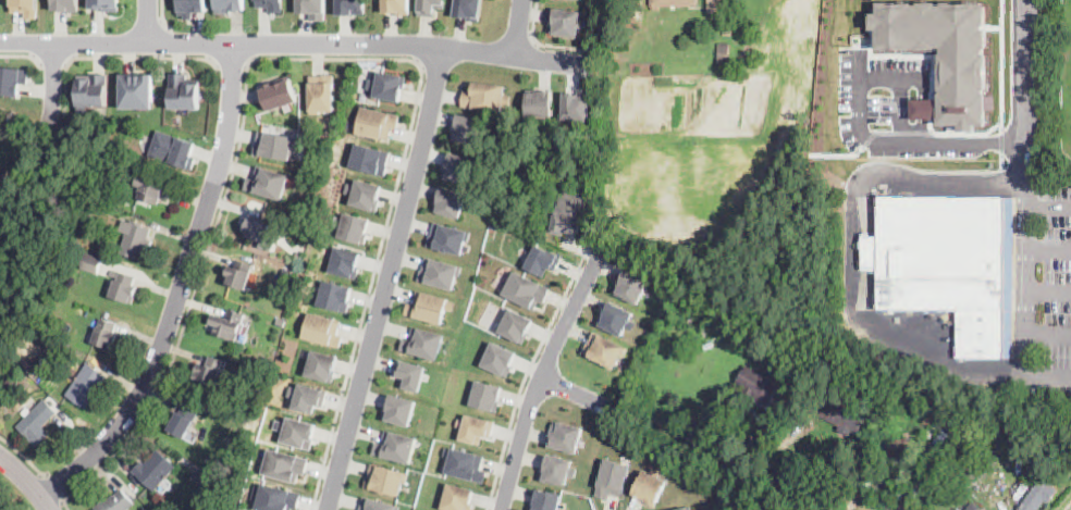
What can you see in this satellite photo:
building: (106, 3)
building: (673, 3)
building: (229, 4)
building: (65, 5)
building: (270, 5)
building: (397, 5)
building: (430, 5)
building: (25, 7)
building: (193, 7)
building: (349, 7)
building: (717, 7)
building: (311, 8)
building: (467, 9)
road: (161, 15)
road: (148, 21)
building: (567, 23)
road: (519, 27)
building: (727, 30)
road: (159, 37)
road: (296, 42)
road: (544, 43)
building: (944, 51)
road: (21, 52)
road: (313, 54)
road: (118, 55)
building: (724, 55)
road: (231, 61)
road: (52, 62)
road: (53, 77)
building: (12, 78)
building: (389, 84)
building: (137, 89)
building: (93, 90)
building: (184, 90)
building: (280, 91)
building: (321, 91)
building: (485, 96)
building: (541, 103)
building: (576, 107)
building: (378, 121)
building: (471, 127)
road: (909, 135)
building: (278, 145)
building: (173, 149)
building: (370, 159)
building: (461, 166)
building: (3, 175)
building: (268, 182)
building: (152, 189)
building: (365, 192)
building: (452, 199)
road: (1048, 204)
road: (1025, 208)
building: (95, 209)
building: (569, 211)
building: (353, 225)
building: (256, 229)
building: (450, 236)
building: (137, 239)
road: (1048, 251)
building: (299, 254)
road: (853, 256)
building: (542, 259)
building: (346, 260)
building: (93, 261)
building: (949, 265)
building: (287, 271)
building: (441, 271)
building: (239, 274)
road: (386, 277)
parking lot: (1058, 279)
building: (632, 285)
building: (124, 288)
building: (526, 288)
road: (181, 290)
road: (1048, 293)
building: (335, 294)
building: (430, 304)
building: (710, 311)
building: (617, 319)
building: (281, 320)
building: (741, 322)
building: (517, 324)
building: (230, 325)
building: (323, 327)
building: (49, 333)
building: (107, 335)
road: (1048, 335)
building: (27, 340)
building: (423, 341)
building: (50, 346)
building: (605, 349)
building: (500, 357)
building: (322, 363)
building: (211, 371)
building: (410, 372)
building: (250, 374)
road: (525, 374)
road: (539, 378)
building: (9, 382)
building: (86, 385)
building: (759, 387)
road: (574, 391)
building: (487, 394)
building: (308, 395)
building: (401, 408)
building: (842, 420)
building: (37, 421)
building: (183, 421)
building: (476, 427)
building: (934, 428)
building: (297, 431)
building: (565, 436)
building: (888, 438)
building: (939, 443)
building: (397, 445)
road: (23, 451)
building: (212, 460)
building: (465, 462)
building: (285, 463)
building: (973, 468)
building: (557, 469)
building: (155, 470)
building: (921, 471)
building: (386, 476)
building: (613, 477)
building: (892, 477)
building: (956, 480)
road: (27, 481)
road: (56, 483)
building: (651, 486)
building: (890, 494)
building: (276, 496)
building: (457, 496)
building: (1038, 497)
building: (546, 500)
building: (115, 502)
building: (377, 503)
road: (1067, 505)
building: (974, 508)
building: (687, 509)

